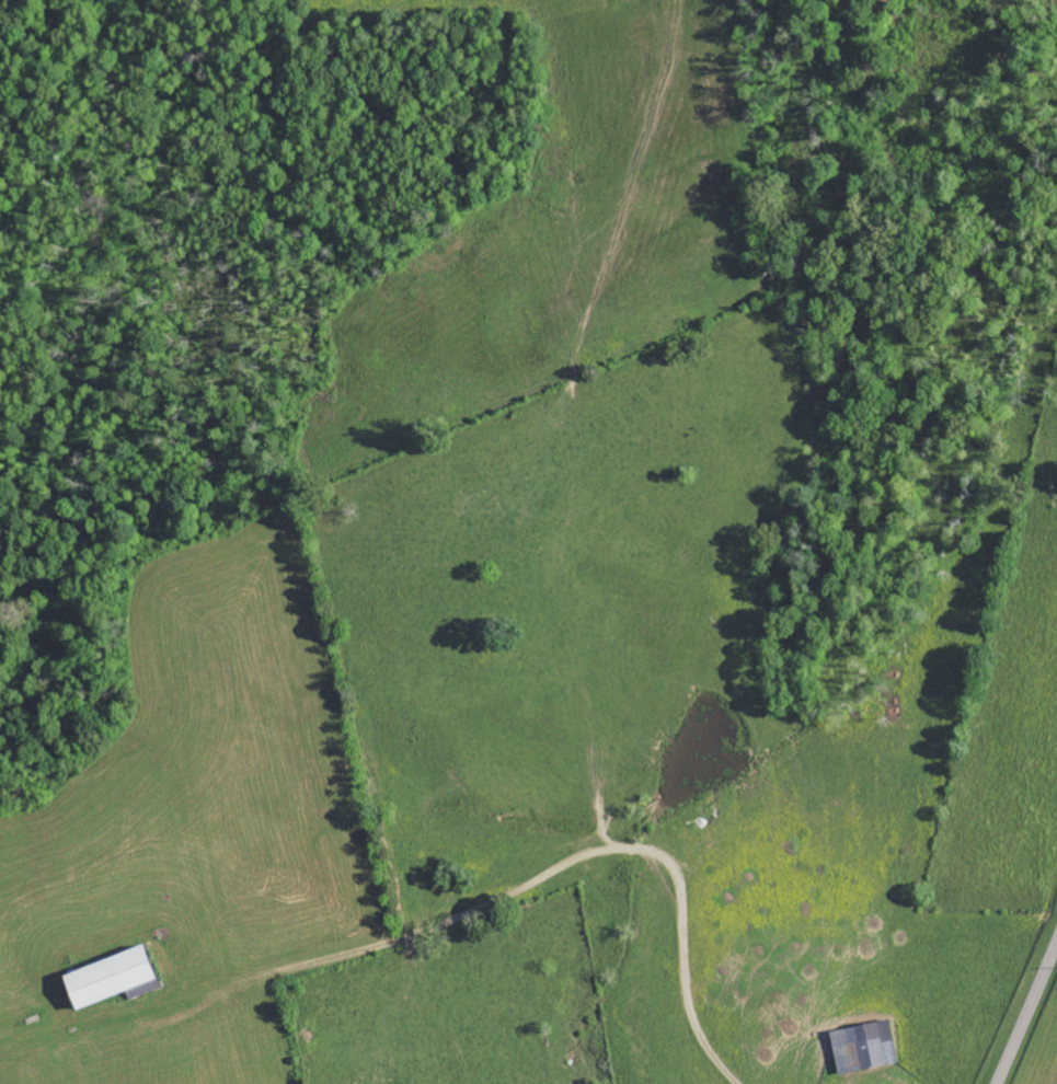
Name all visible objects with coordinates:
building: (112, 979)
road: (1025, 1010)
building: (863, 1048)

